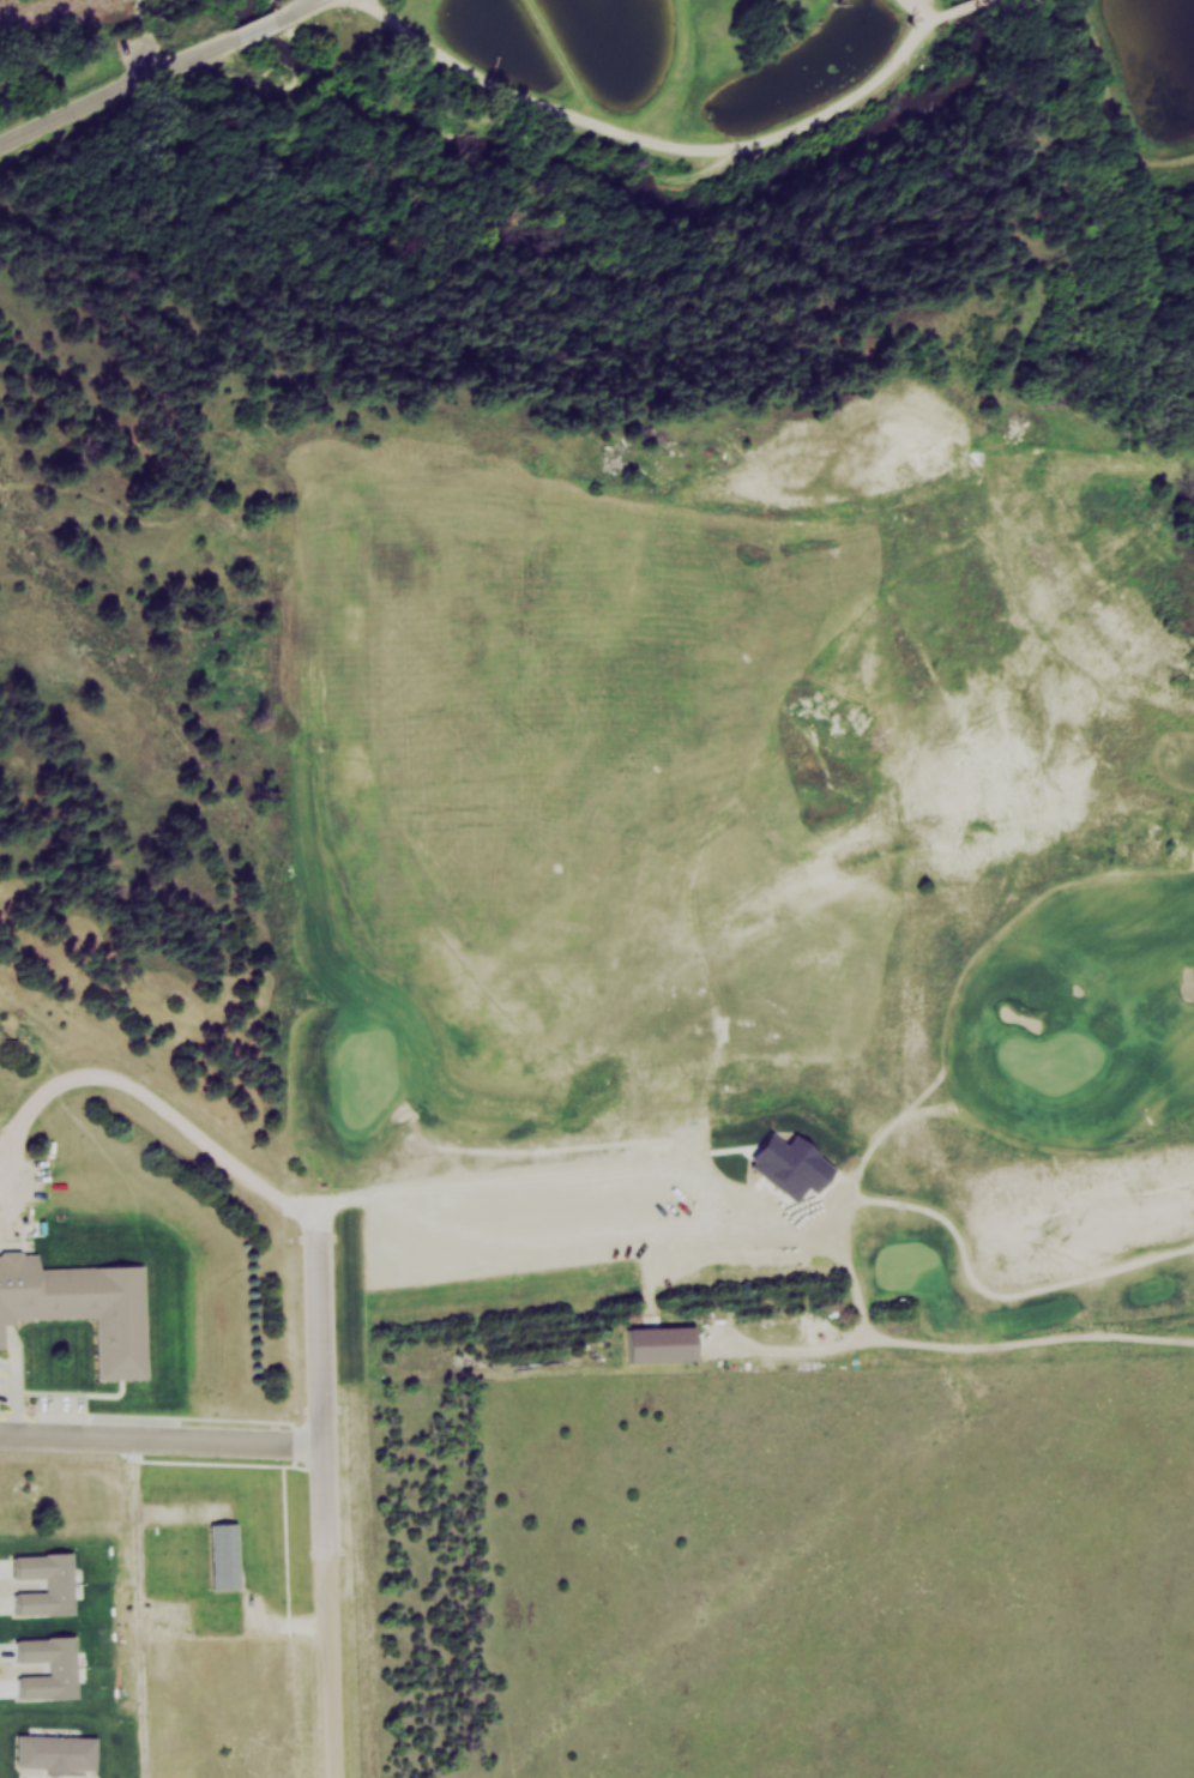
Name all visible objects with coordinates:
road: (988, 0)
road: (969, 7)
road: (302, 8)
road: (265, 26)
road: (933, 31)
road: (123, 91)
road: (661, 144)
building: (556, 989)
road: (404, 1152)
building: (82, 1307)
road: (326, 1390)
road: (163, 1439)
building: (44, 1584)
road: (131, 1608)
building: (61, 1668)
road: (334, 1670)
building: (58, 1752)

